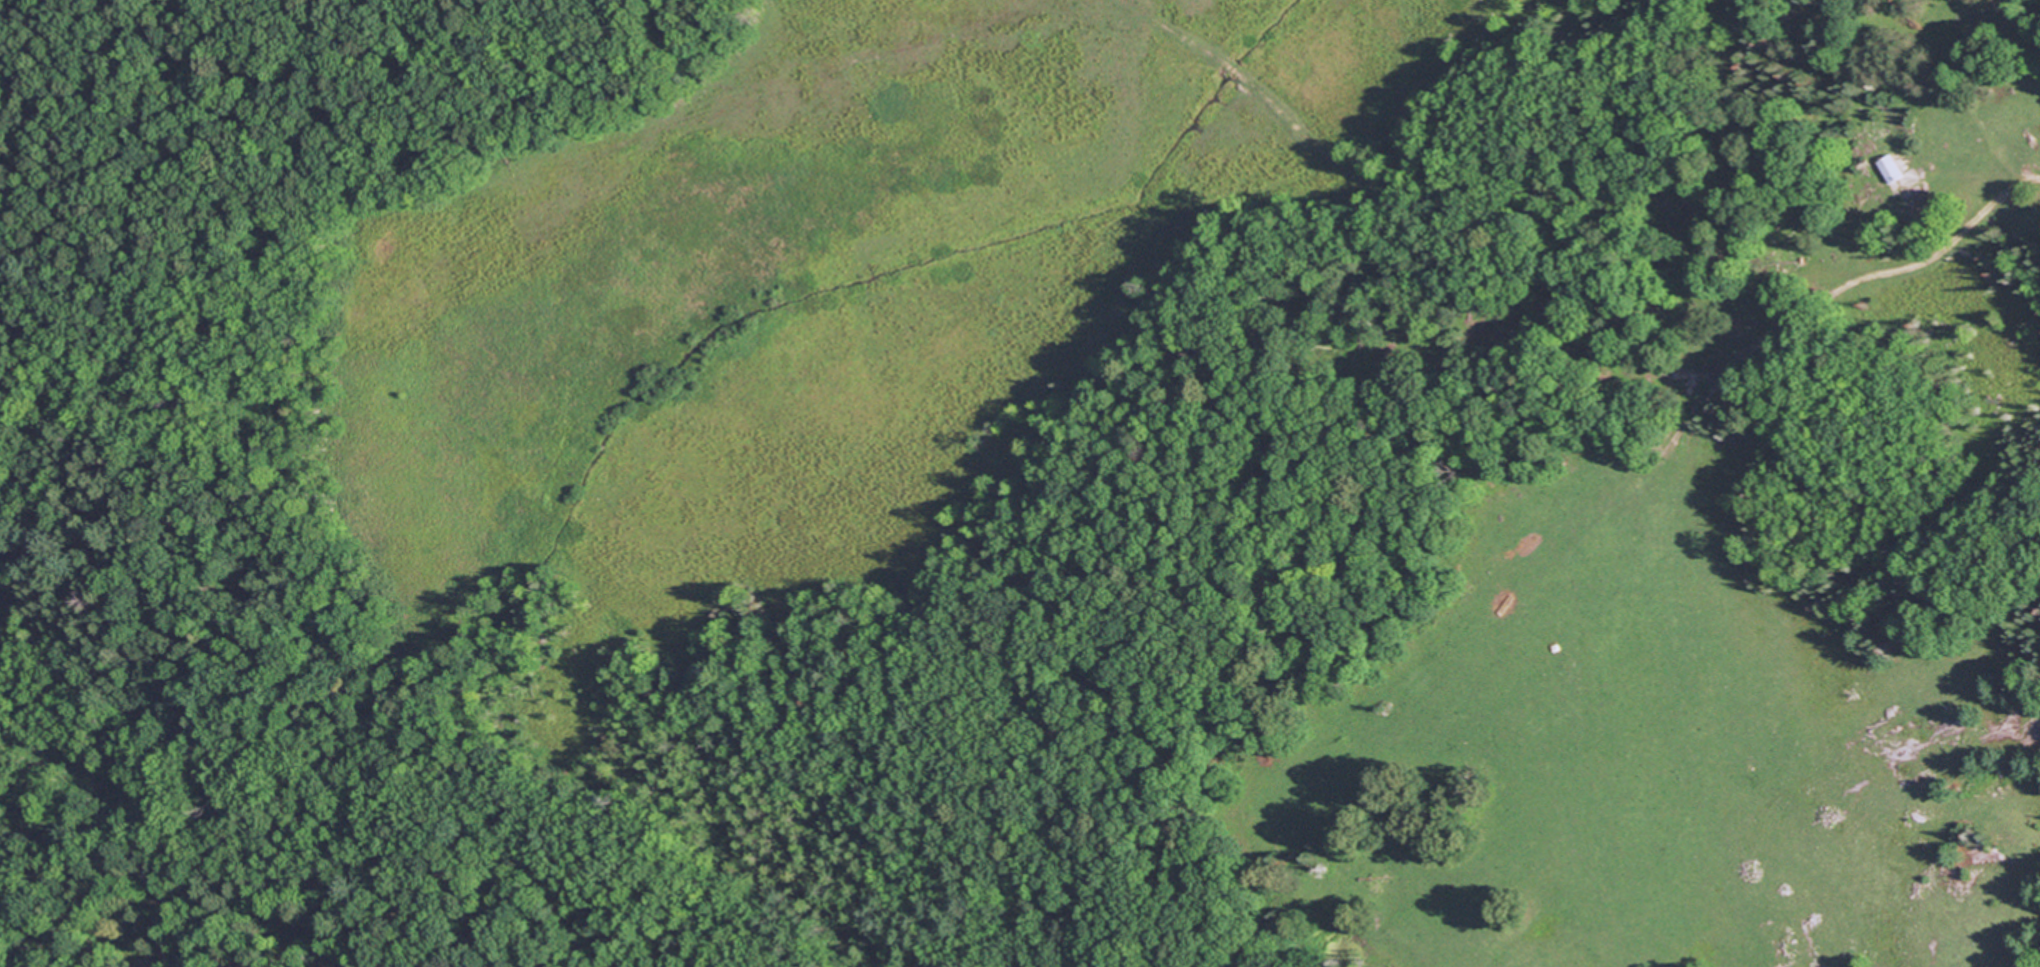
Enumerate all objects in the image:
building: (1893, 168)
road: (2039, 178)

